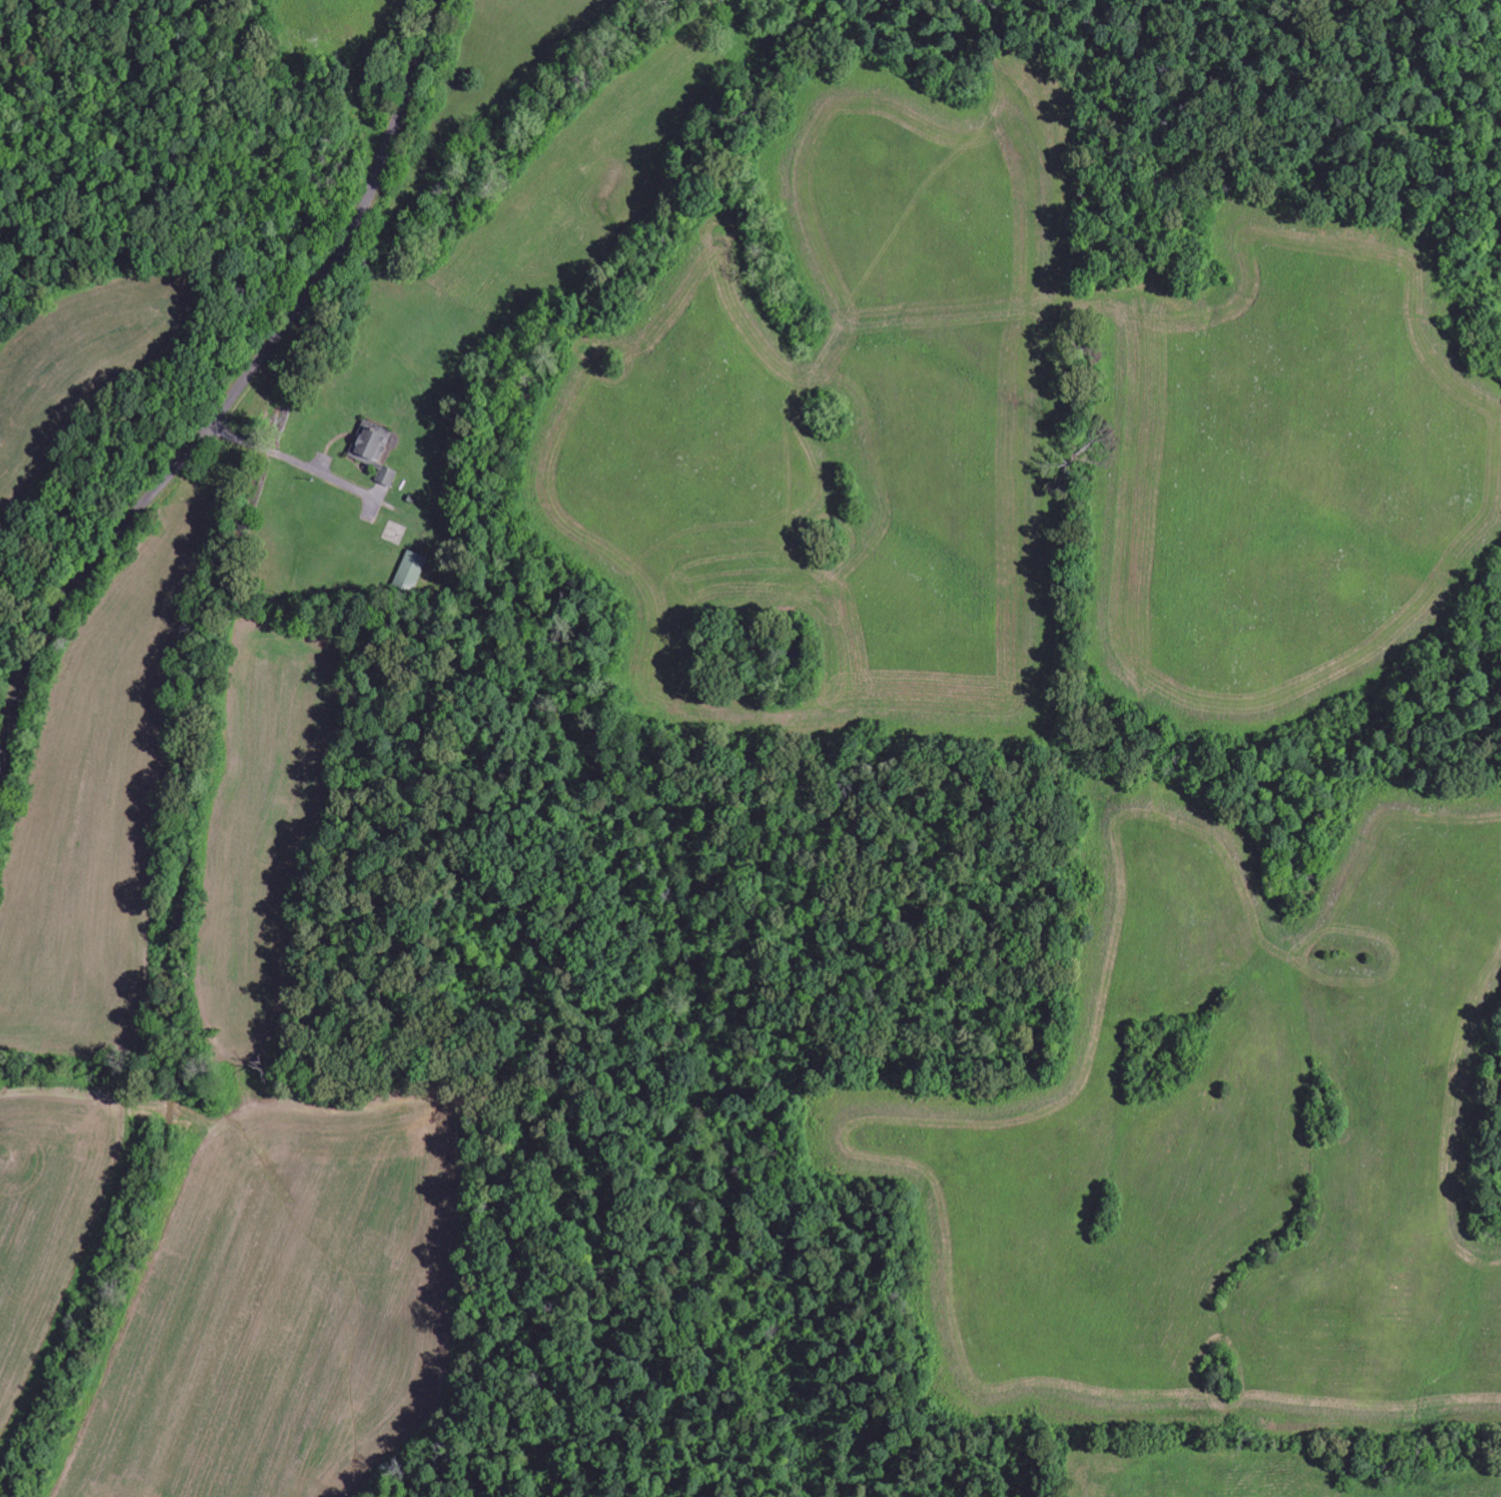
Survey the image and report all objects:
road: (230, 403)
building: (370, 443)
building: (412, 572)

